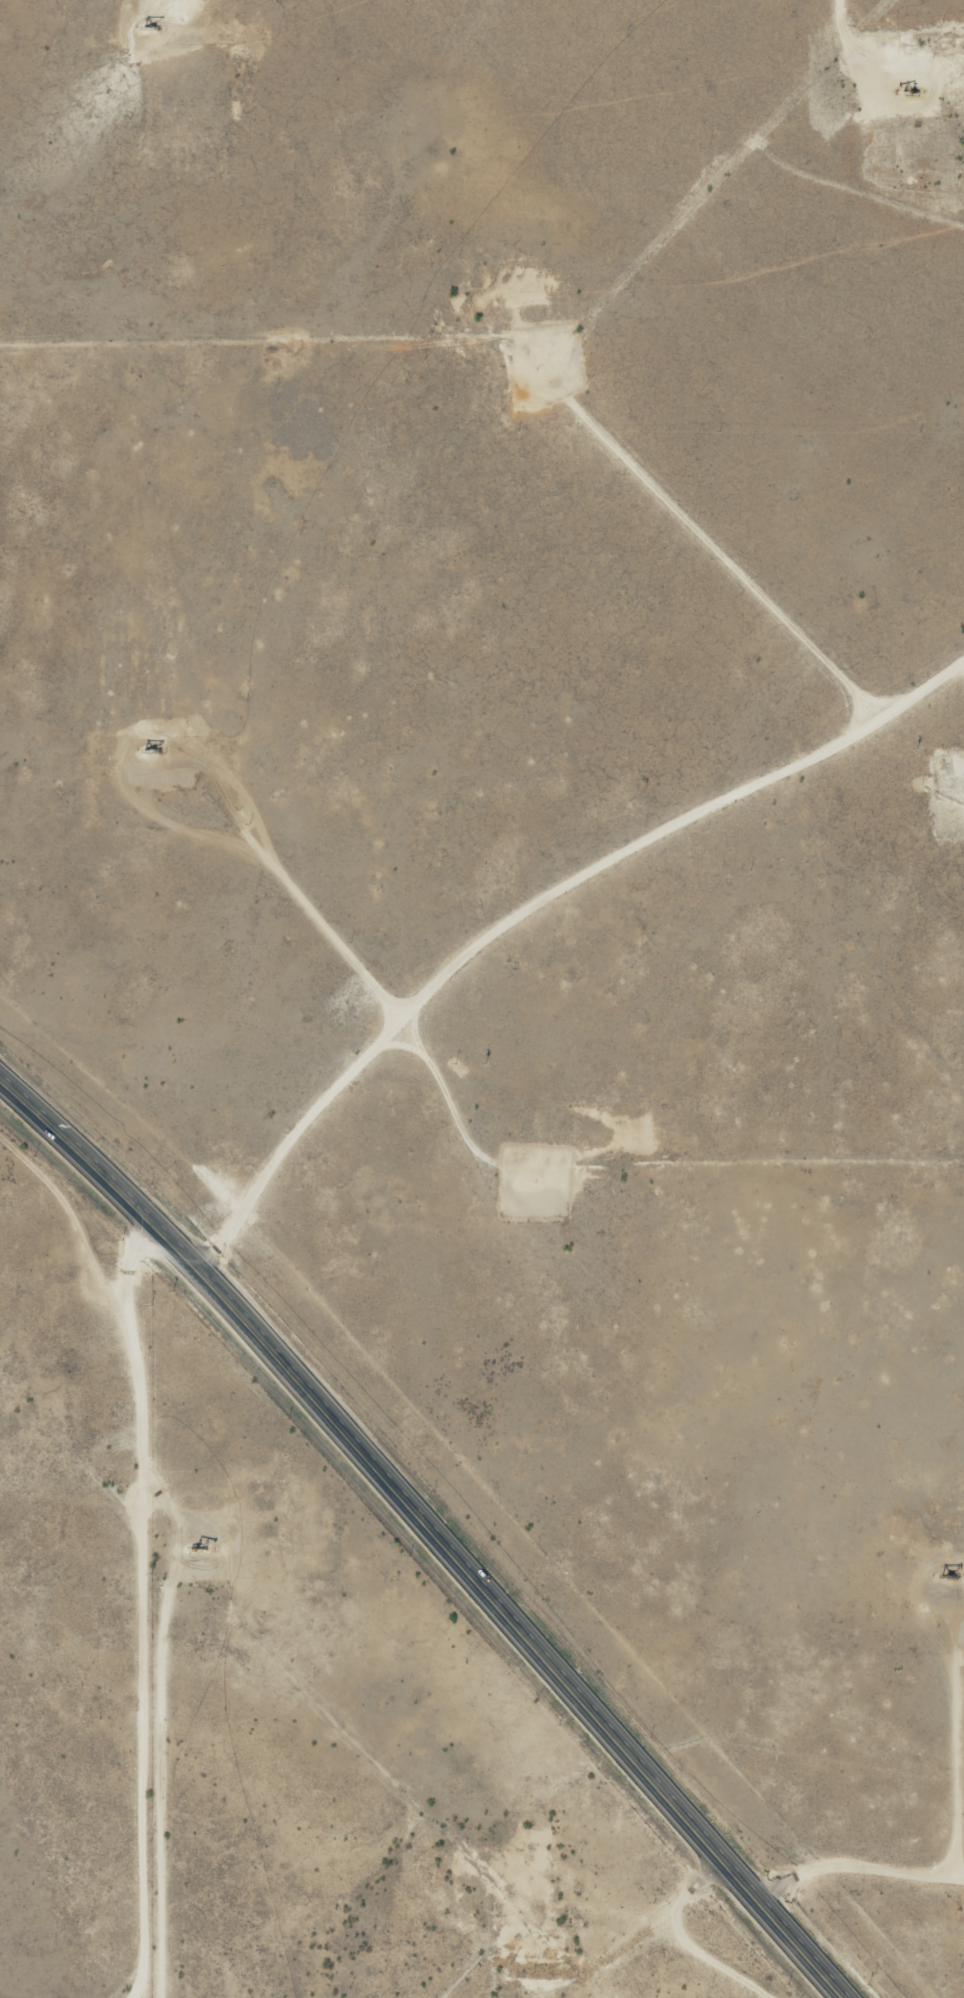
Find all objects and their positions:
road: (737, 563)
road: (244, 1184)
road: (60, 1233)
road: (424, 1538)
road: (856, 1881)

